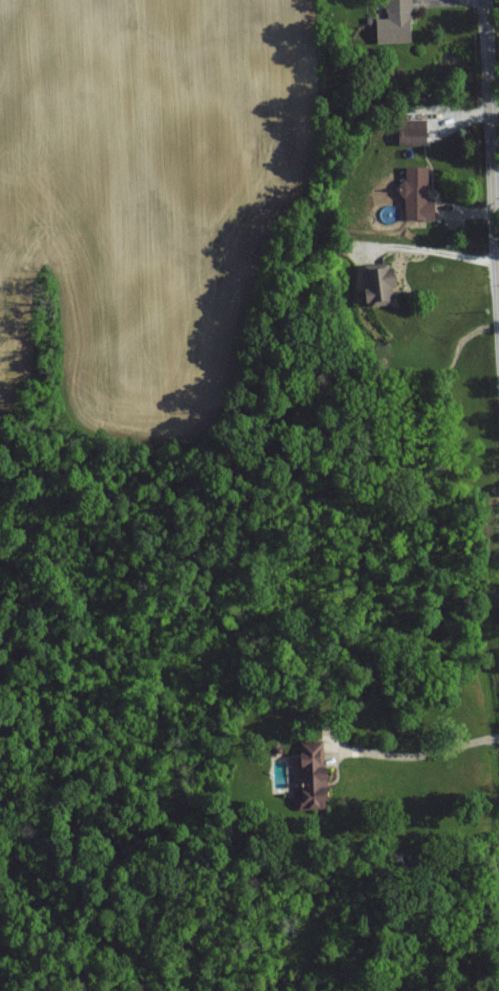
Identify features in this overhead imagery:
building: (394, 22)
building: (410, 131)
road: (492, 168)
building: (415, 194)
road: (436, 252)
road: (416, 756)
building: (310, 784)

